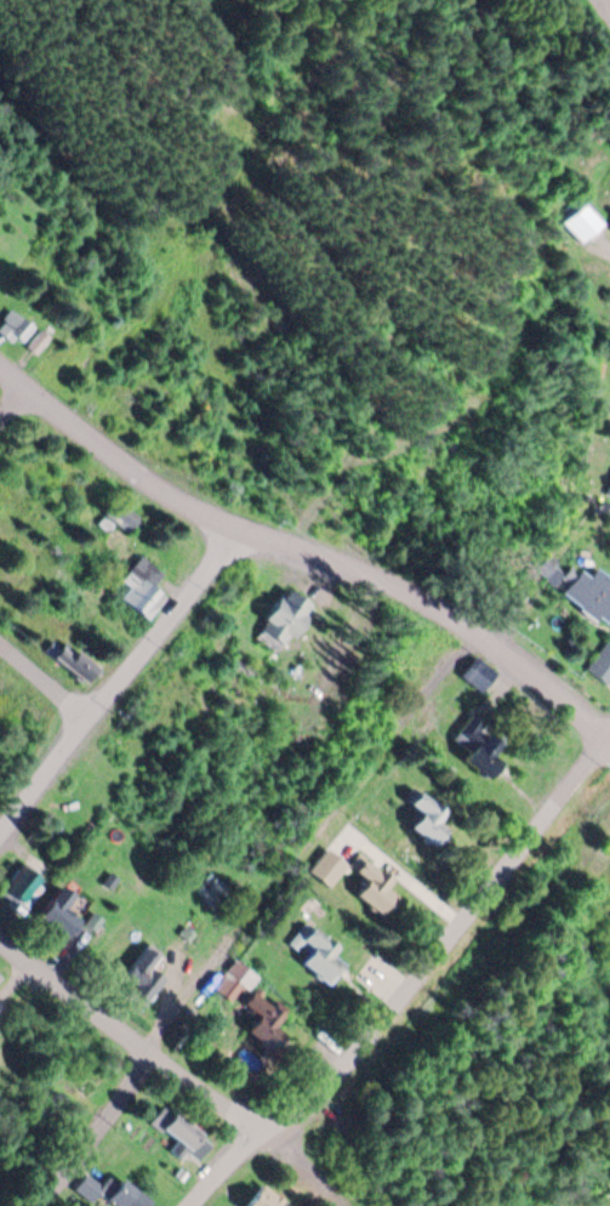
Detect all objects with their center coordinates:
building: (581, 222)
building: (12, 326)
road: (17, 402)
building: (608, 493)
building: (119, 516)
road: (304, 541)
building: (141, 587)
building: (588, 592)
building: (283, 618)
building: (75, 661)
building: (600, 664)
road: (47, 669)
road: (120, 673)
building: (477, 675)
building: (483, 755)
building: (427, 819)
road: (319, 832)
building: (19, 882)
building: (374, 887)
building: (57, 911)
building: (318, 952)
building: (141, 972)
road: (417, 982)
building: (264, 1019)
road: (164, 1047)
road: (99, 1125)
building: (182, 1131)
building: (87, 1188)
building: (129, 1195)
building: (267, 1198)

